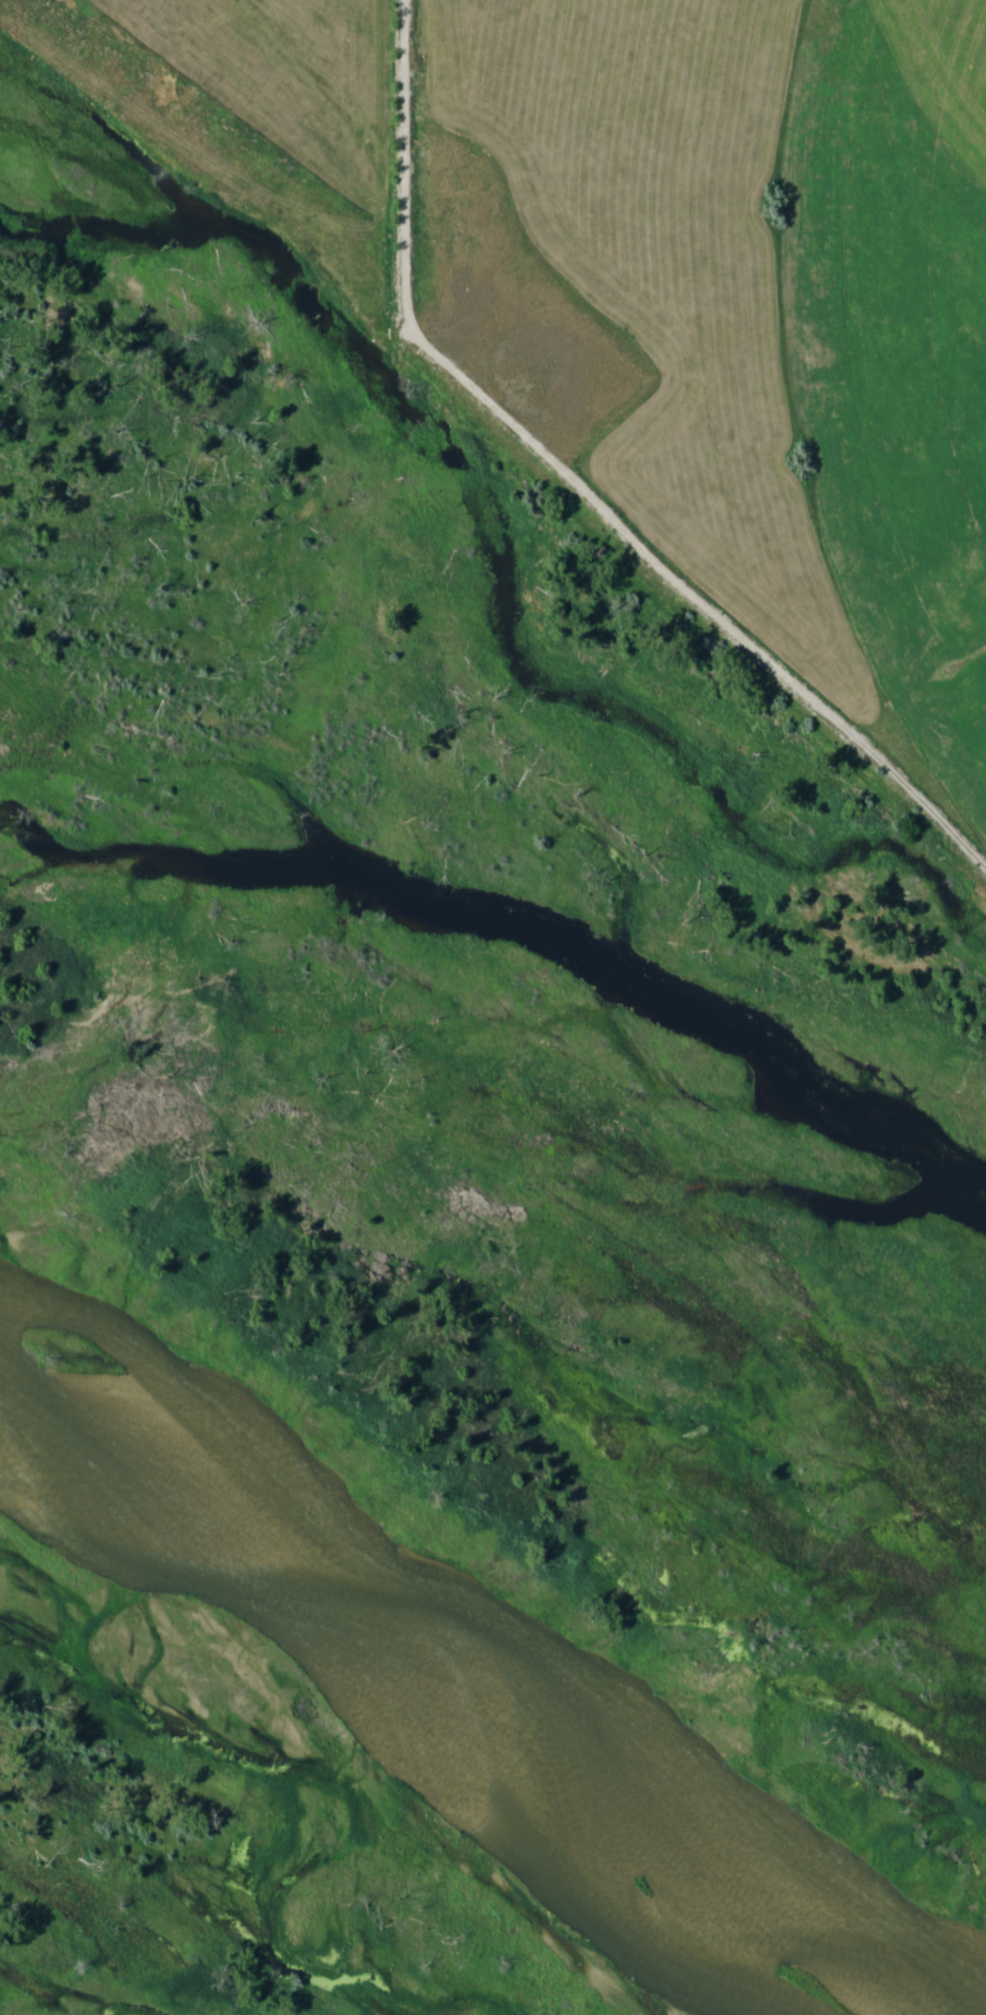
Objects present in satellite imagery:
river: (495, 1710)

